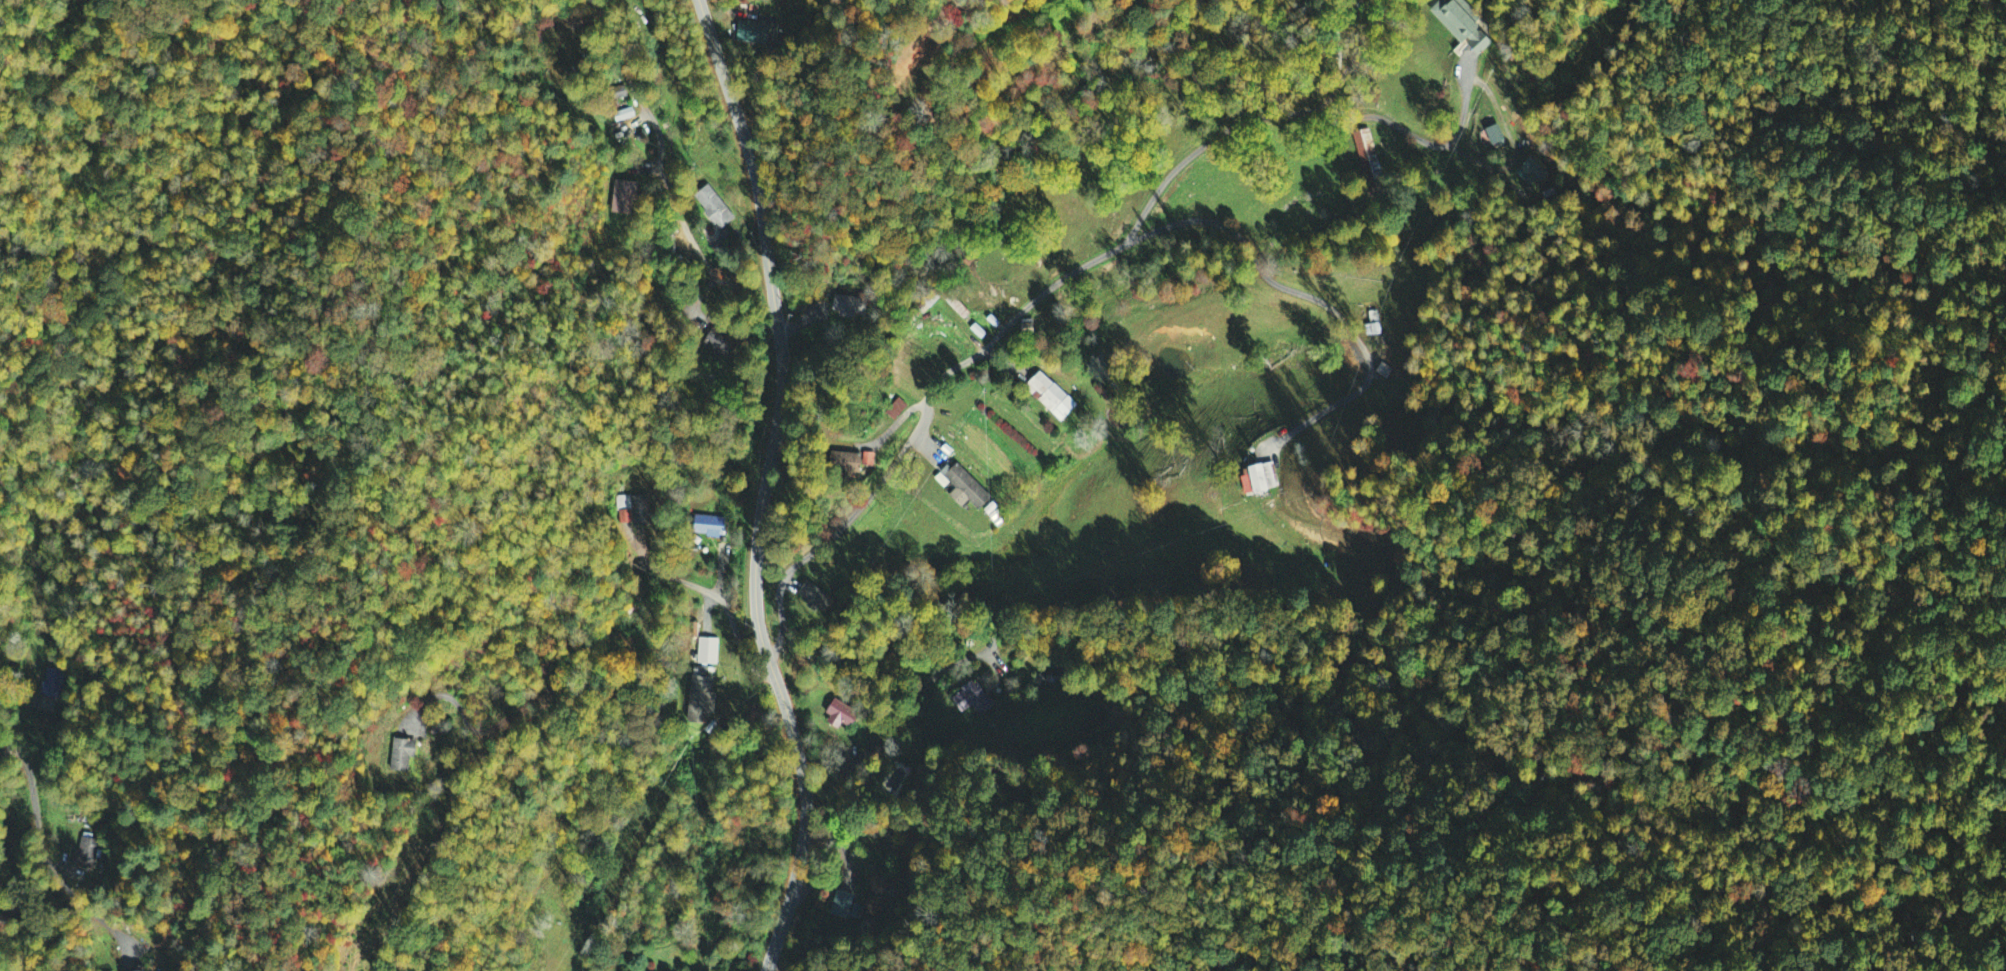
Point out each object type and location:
building: (1452, 22)
building: (756, 35)
road: (1307, 111)
building: (1497, 137)
building: (1367, 157)
building: (1532, 173)
road: (663, 182)
building: (714, 208)
road: (1315, 297)
building: (852, 308)
building: (993, 319)
building: (978, 329)
building: (721, 345)
building: (1057, 398)
road: (920, 425)
building: (952, 451)
building: (858, 462)
building: (1262, 476)
road: (763, 485)
building: (972, 489)
building: (636, 506)
building: (711, 527)
building: (817, 598)
road: (589, 614)
building: (708, 652)
building: (52, 683)
building: (701, 697)
building: (972, 699)
building: (841, 716)
road: (868, 754)
building: (403, 755)
road: (34, 794)
building: (87, 855)
building: (841, 906)
building: (854, 913)

